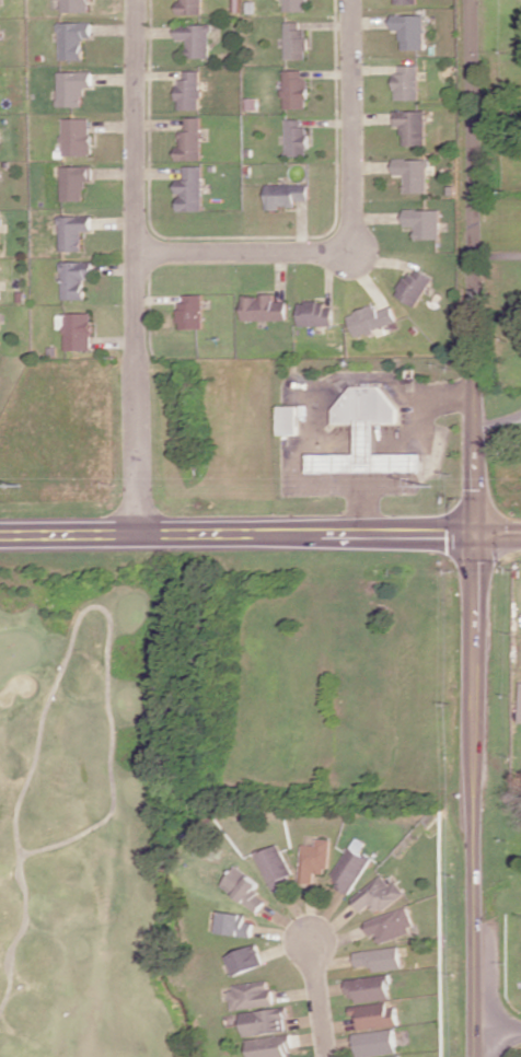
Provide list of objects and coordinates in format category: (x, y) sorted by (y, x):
building: (404, 1)
building: (294, 4)
building: (77, 5)
building: (188, 7)
building: (409, 30)
building: (195, 38)
building: (74, 39)
building: (296, 40)
building: (406, 81)
building: (73, 86)
building: (296, 88)
building: (190, 90)
road: (354, 90)
building: (409, 126)
building: (0, 136)
building: (78, 136)
building: (296, 136)
building: (192, 139)
building: (412, 174)
building: (76, 182)
building: (192, 188)
building: (286, 195)
building: (424, 222)
building: (74, 231)
building: (0, 234)
road: (497, 254)
road: (285, 256)
road: (140, 267)
building: (76, 278)
building: (415, 286)
building: (264, 307)
building: (193, 311)
building: (317, 314)
building: (371, 318)
building: (77, 329)
road: (319, 411)
building: (290, 419)
building: (367, 433)
road: (430, 466)
power tower: (18, 484)
power tower: (427, 486)
road: (473, 527)
road: (236, 535)
traffic signals: (473, 536)
road: (497, 536)
building: (520, 715)
building: (314, 859)
building: (351, 866)
building: (275, 867)
building: (244, 887)
building: (379, 894)
road: (299, 913)
road: (310, 913)
road: (287, 922)
building: (233, 924)
building: (390, 925)
road: (282, 932)
road: (337, 938)
road: (286, 946)
building: (380, 956)
building: (244, 960)
road: (332, 961)
building: (368, 987)
road: (329, 988)
road: (296, 992)
building: (250, 995)
road: (317, 999)
building: (374, 1014)
building: (263, 1021)
road: (497, 1031)
building: (374, 1043)
building: (269, 1045)
building: (393, 1056)

